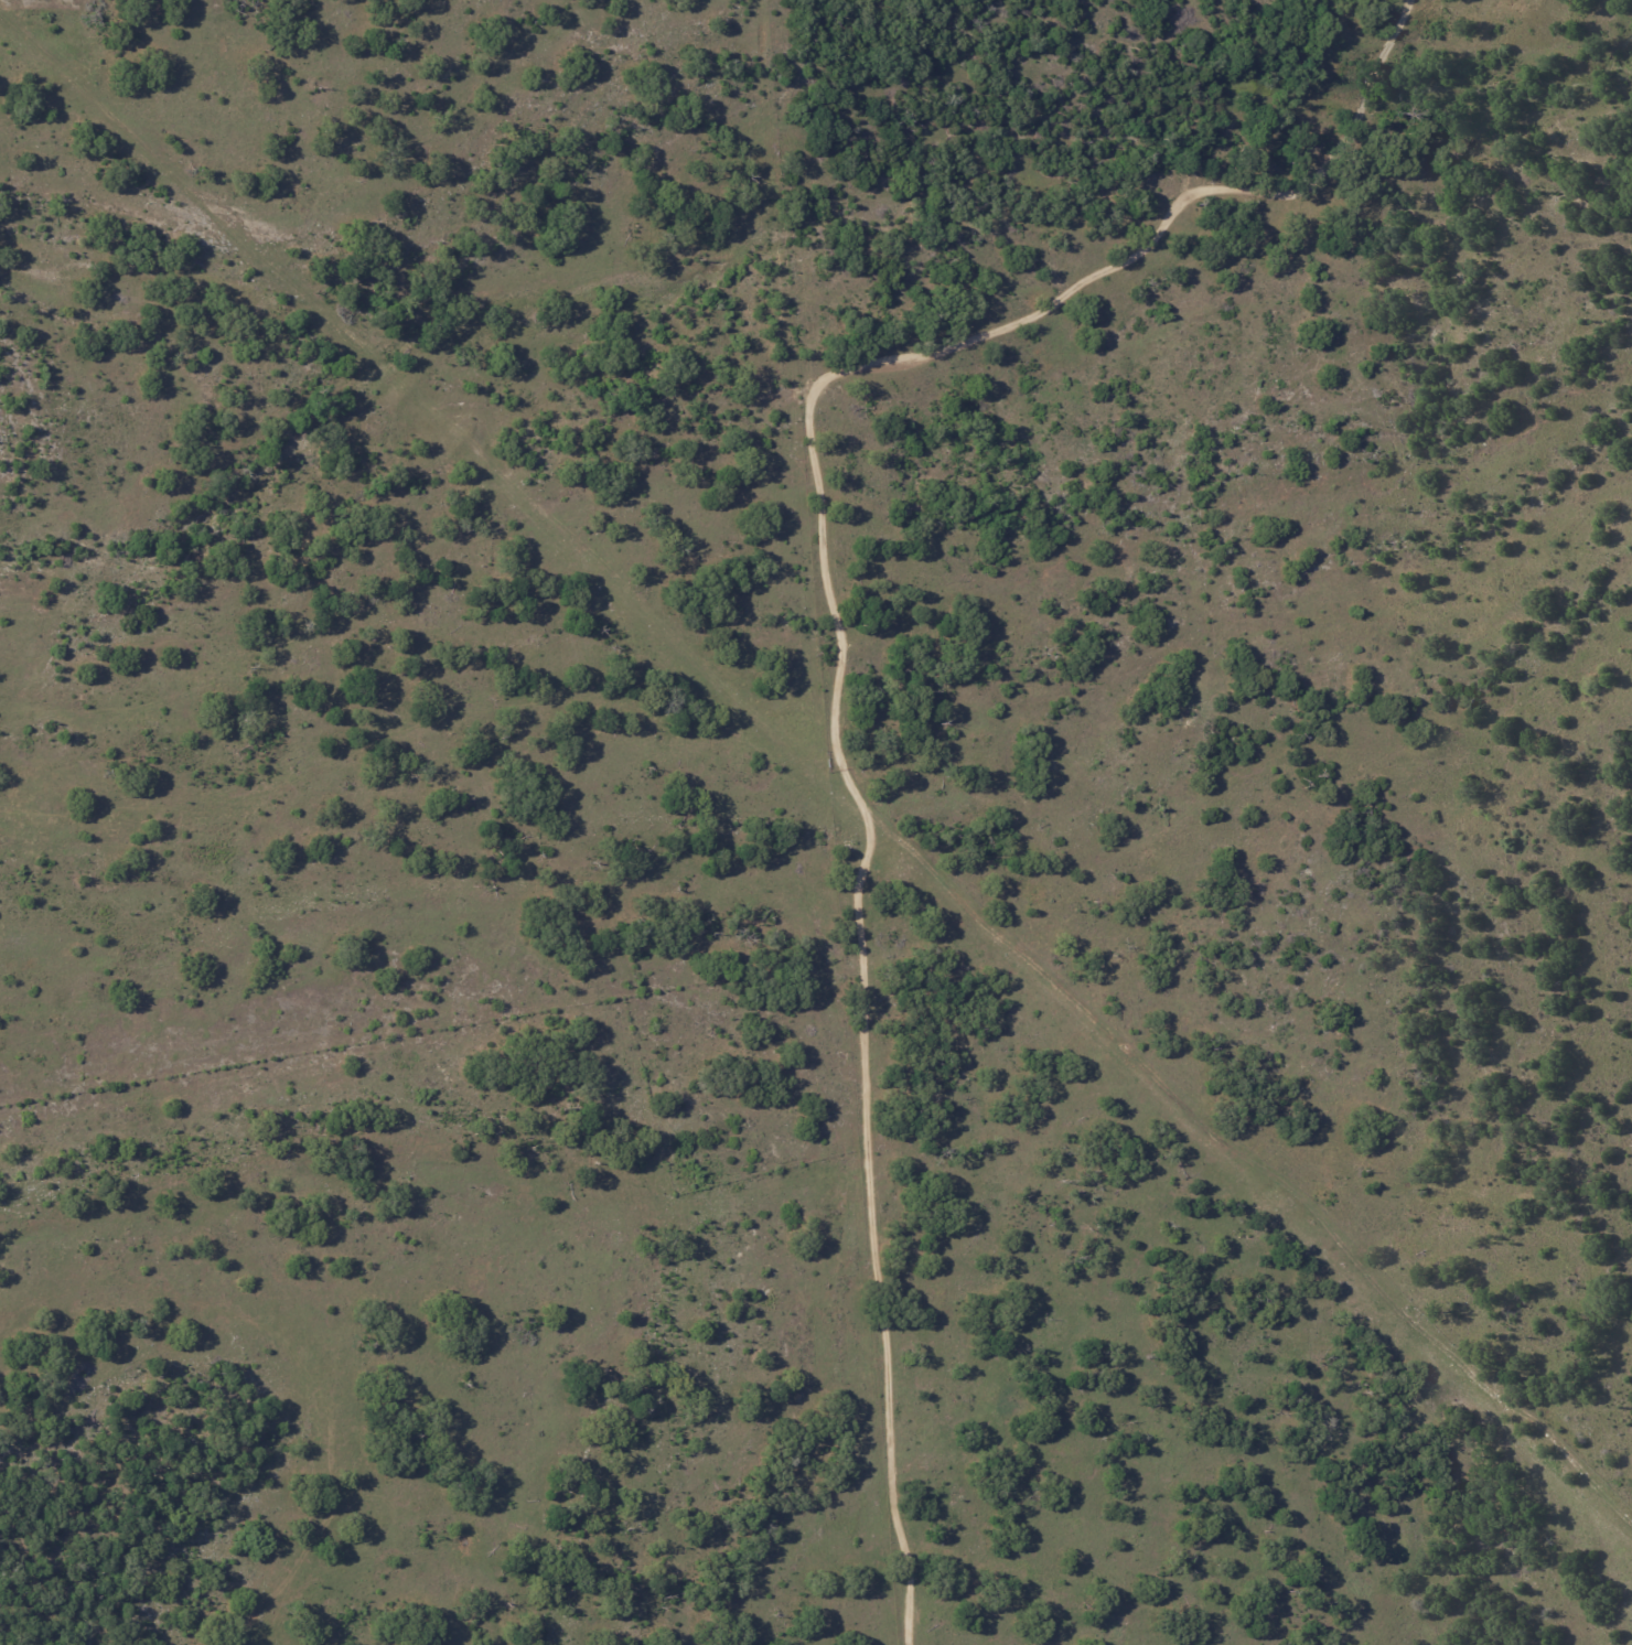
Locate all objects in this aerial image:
road: (838, 634)

